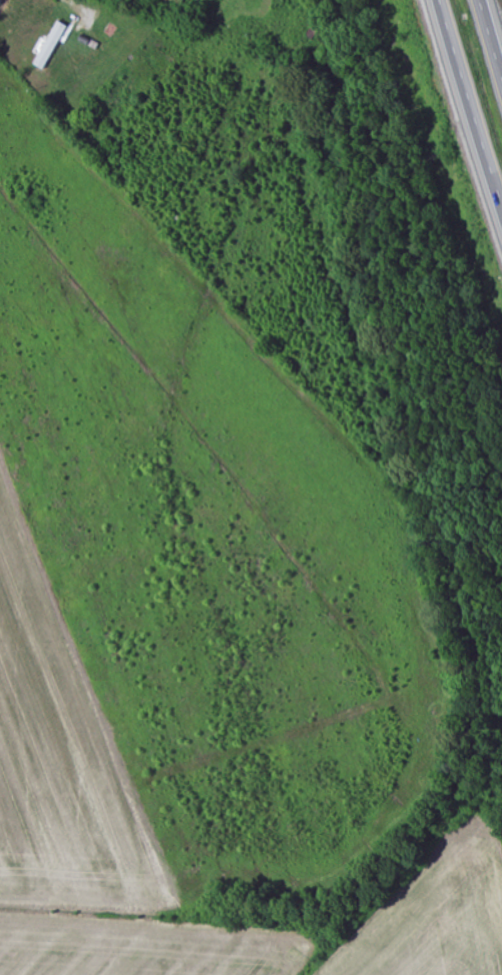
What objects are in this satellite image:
road: (0, 1)
building: (309, 32)
road: (491, 35)
building: (52, 45)
road: (468, 107)

